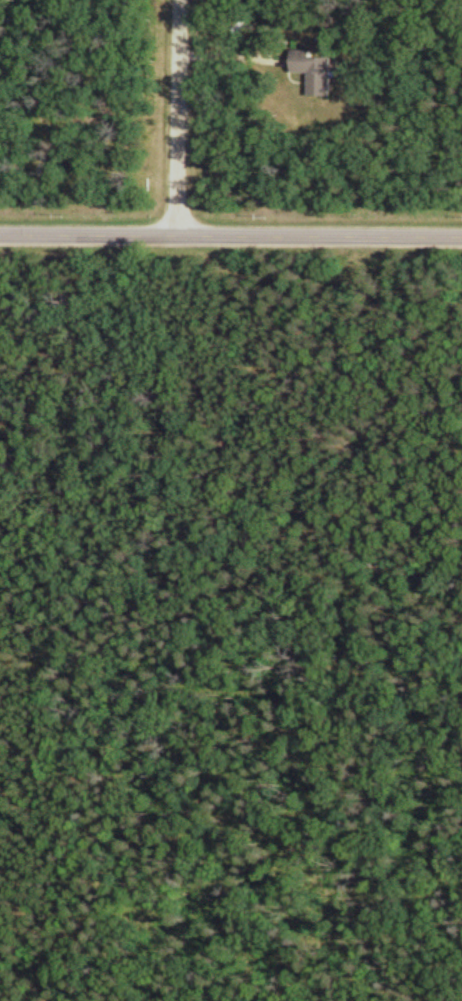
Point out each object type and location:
building: (319, 68)
road: (179, 116)
road: (230, 233)

